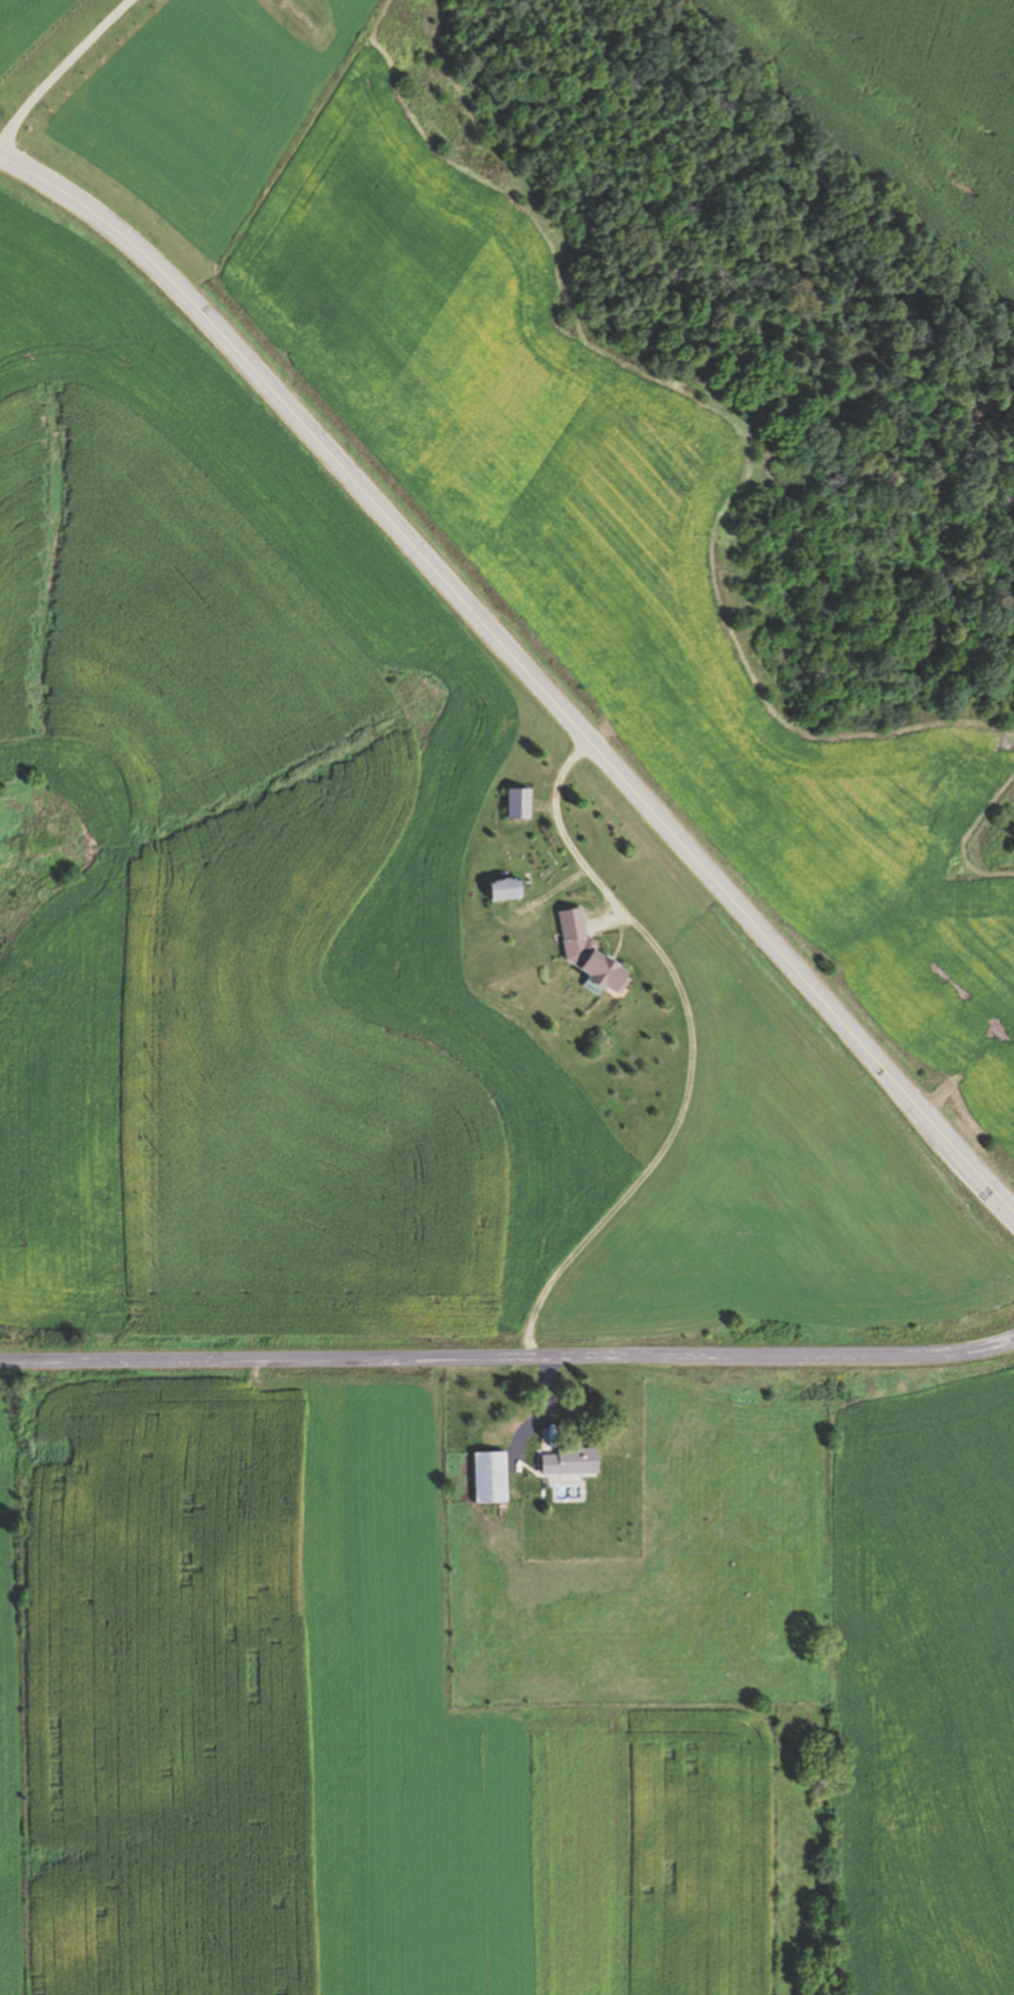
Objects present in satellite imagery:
road: (57, 69)
road: (522, 670)
building: (521, 804)
building: (509, 890)
building: (592, 955)
road: (508, 1349)
building: (573, 1461)
building: (492, 1476)

